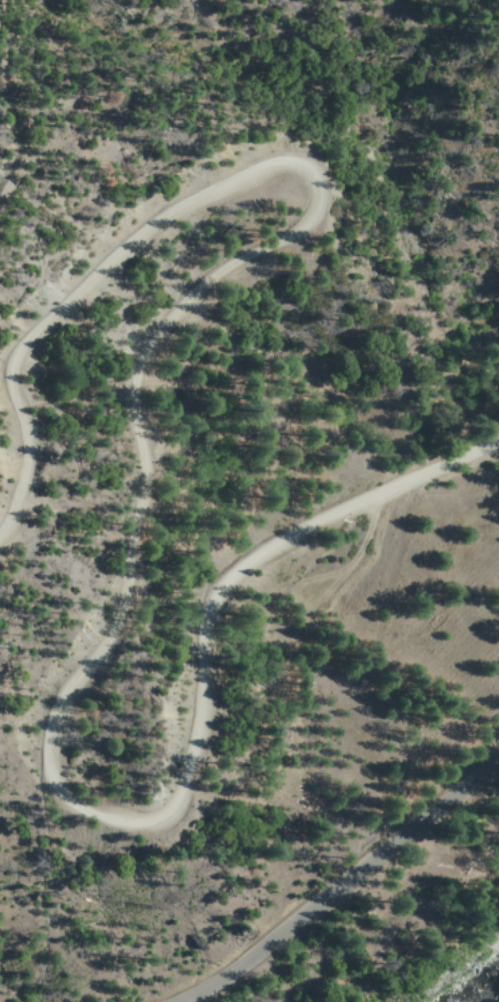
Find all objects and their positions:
road: (141, 506)
road: (333, 884)
river: (483, 989)

